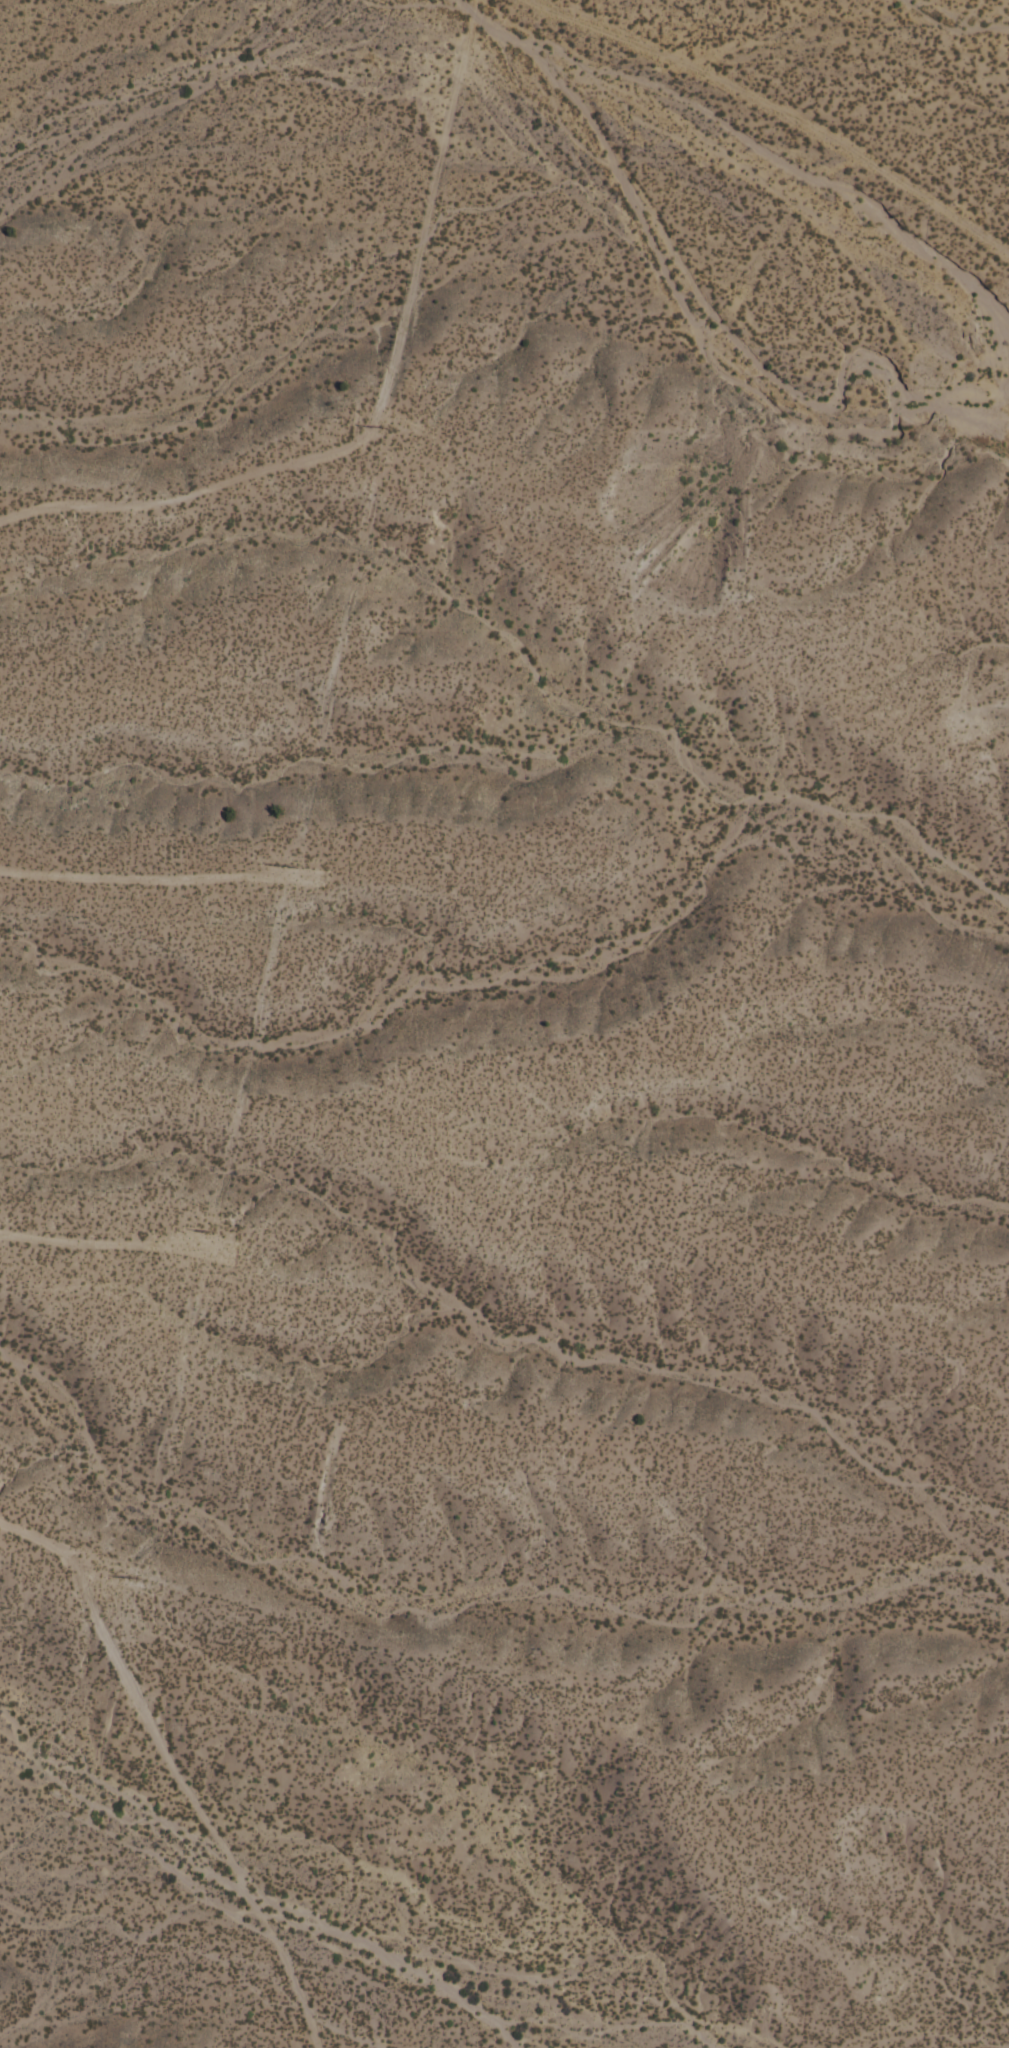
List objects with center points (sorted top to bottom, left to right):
road: (778, 111)
road: (379, 402)
road: (161, 878)
road: (113, 1244)
road: (172, 1769)

